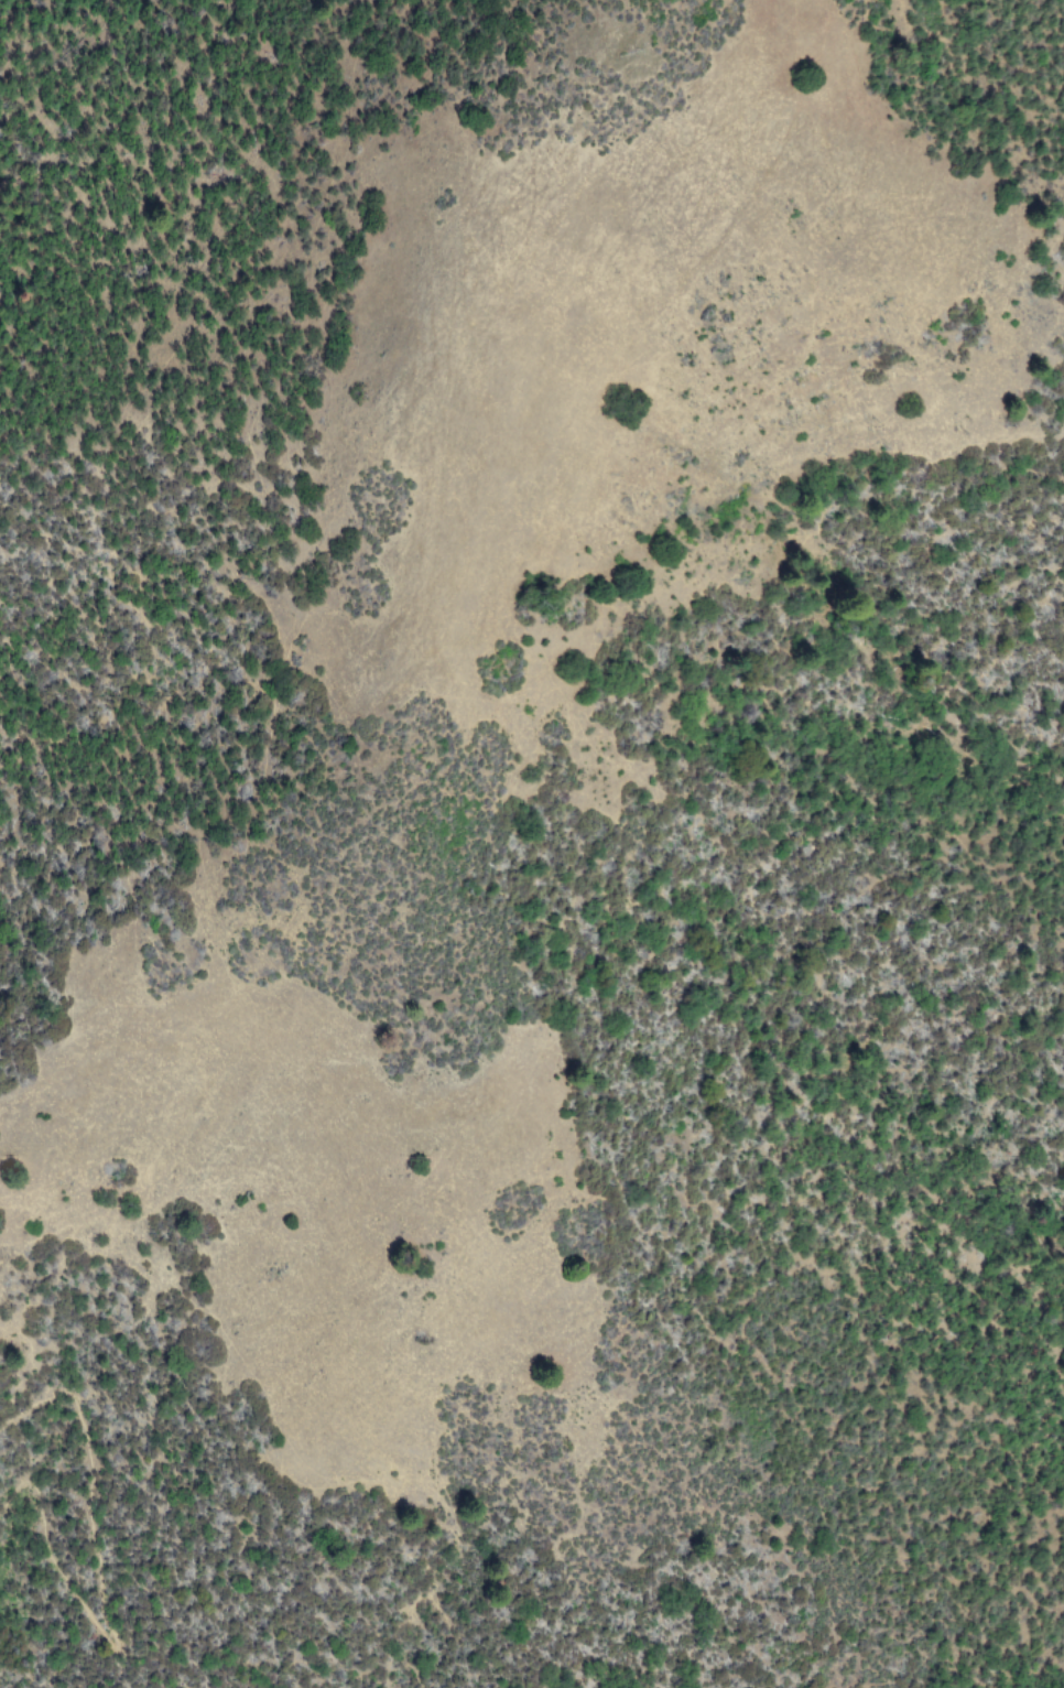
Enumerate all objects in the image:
road: (599, 11)
road: (105, 1588)

